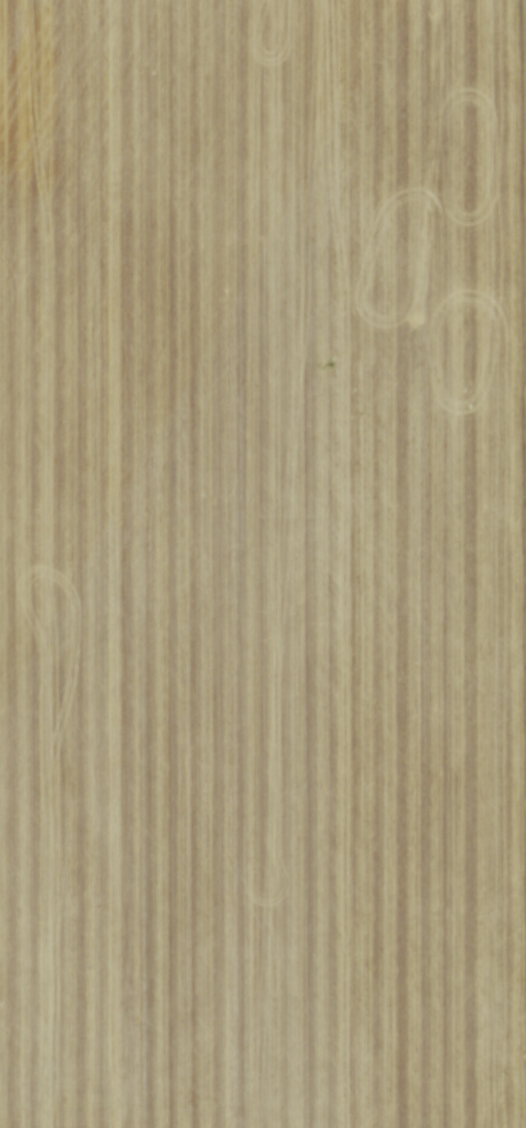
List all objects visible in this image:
crop: (263, 564)

